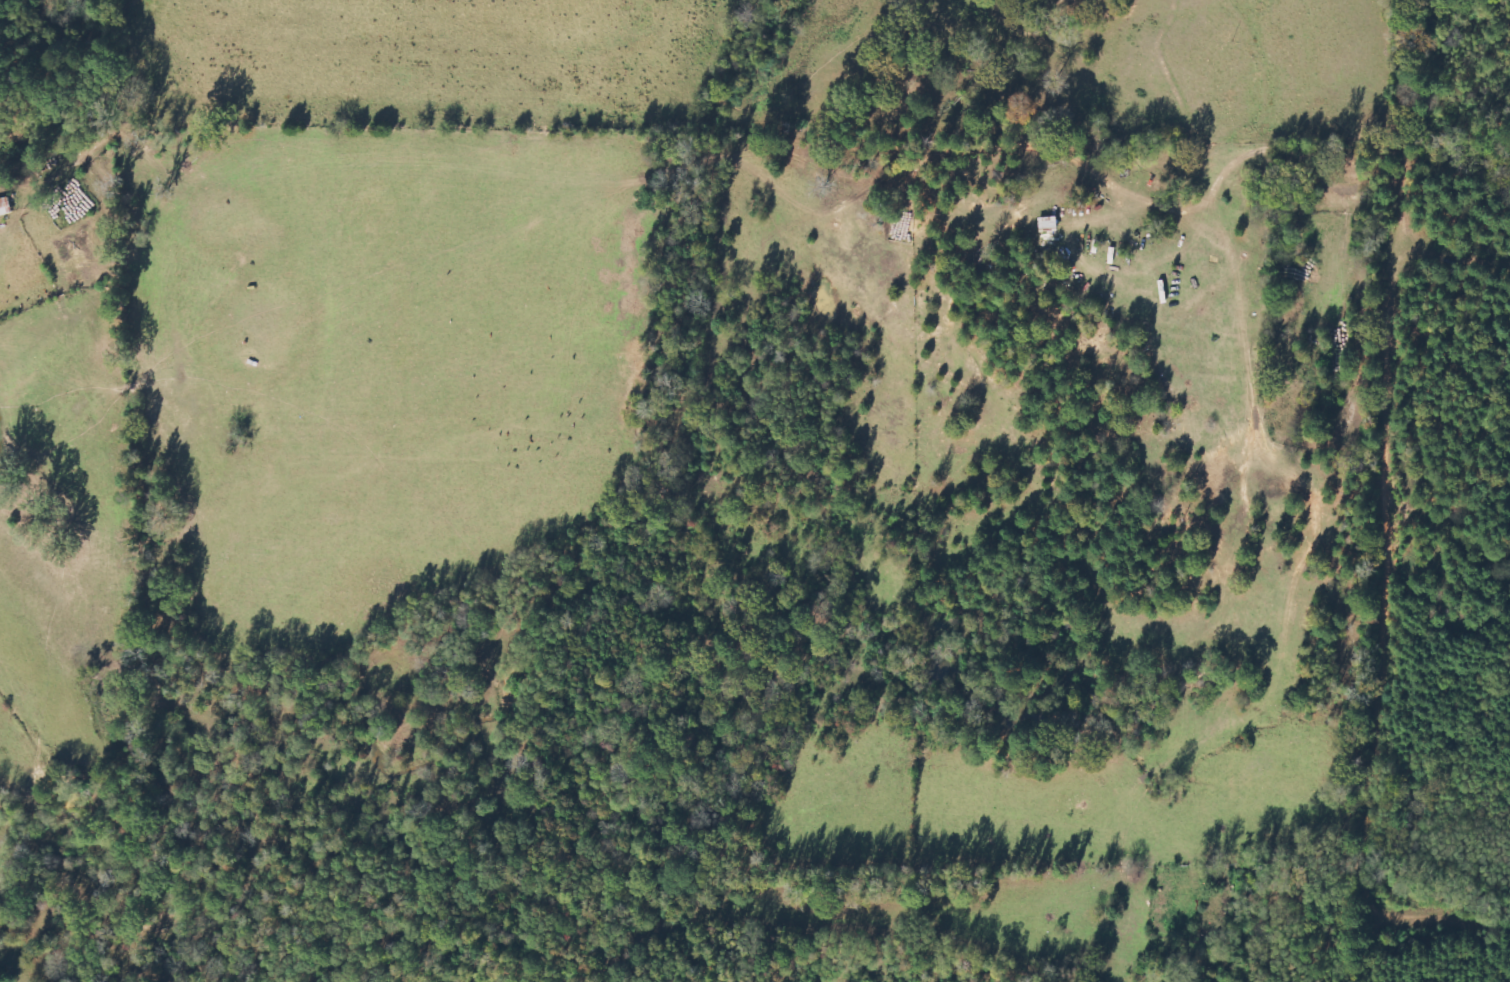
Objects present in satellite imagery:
road: (1412, 74)
building: (5, 207)
building: (1052, 224)

